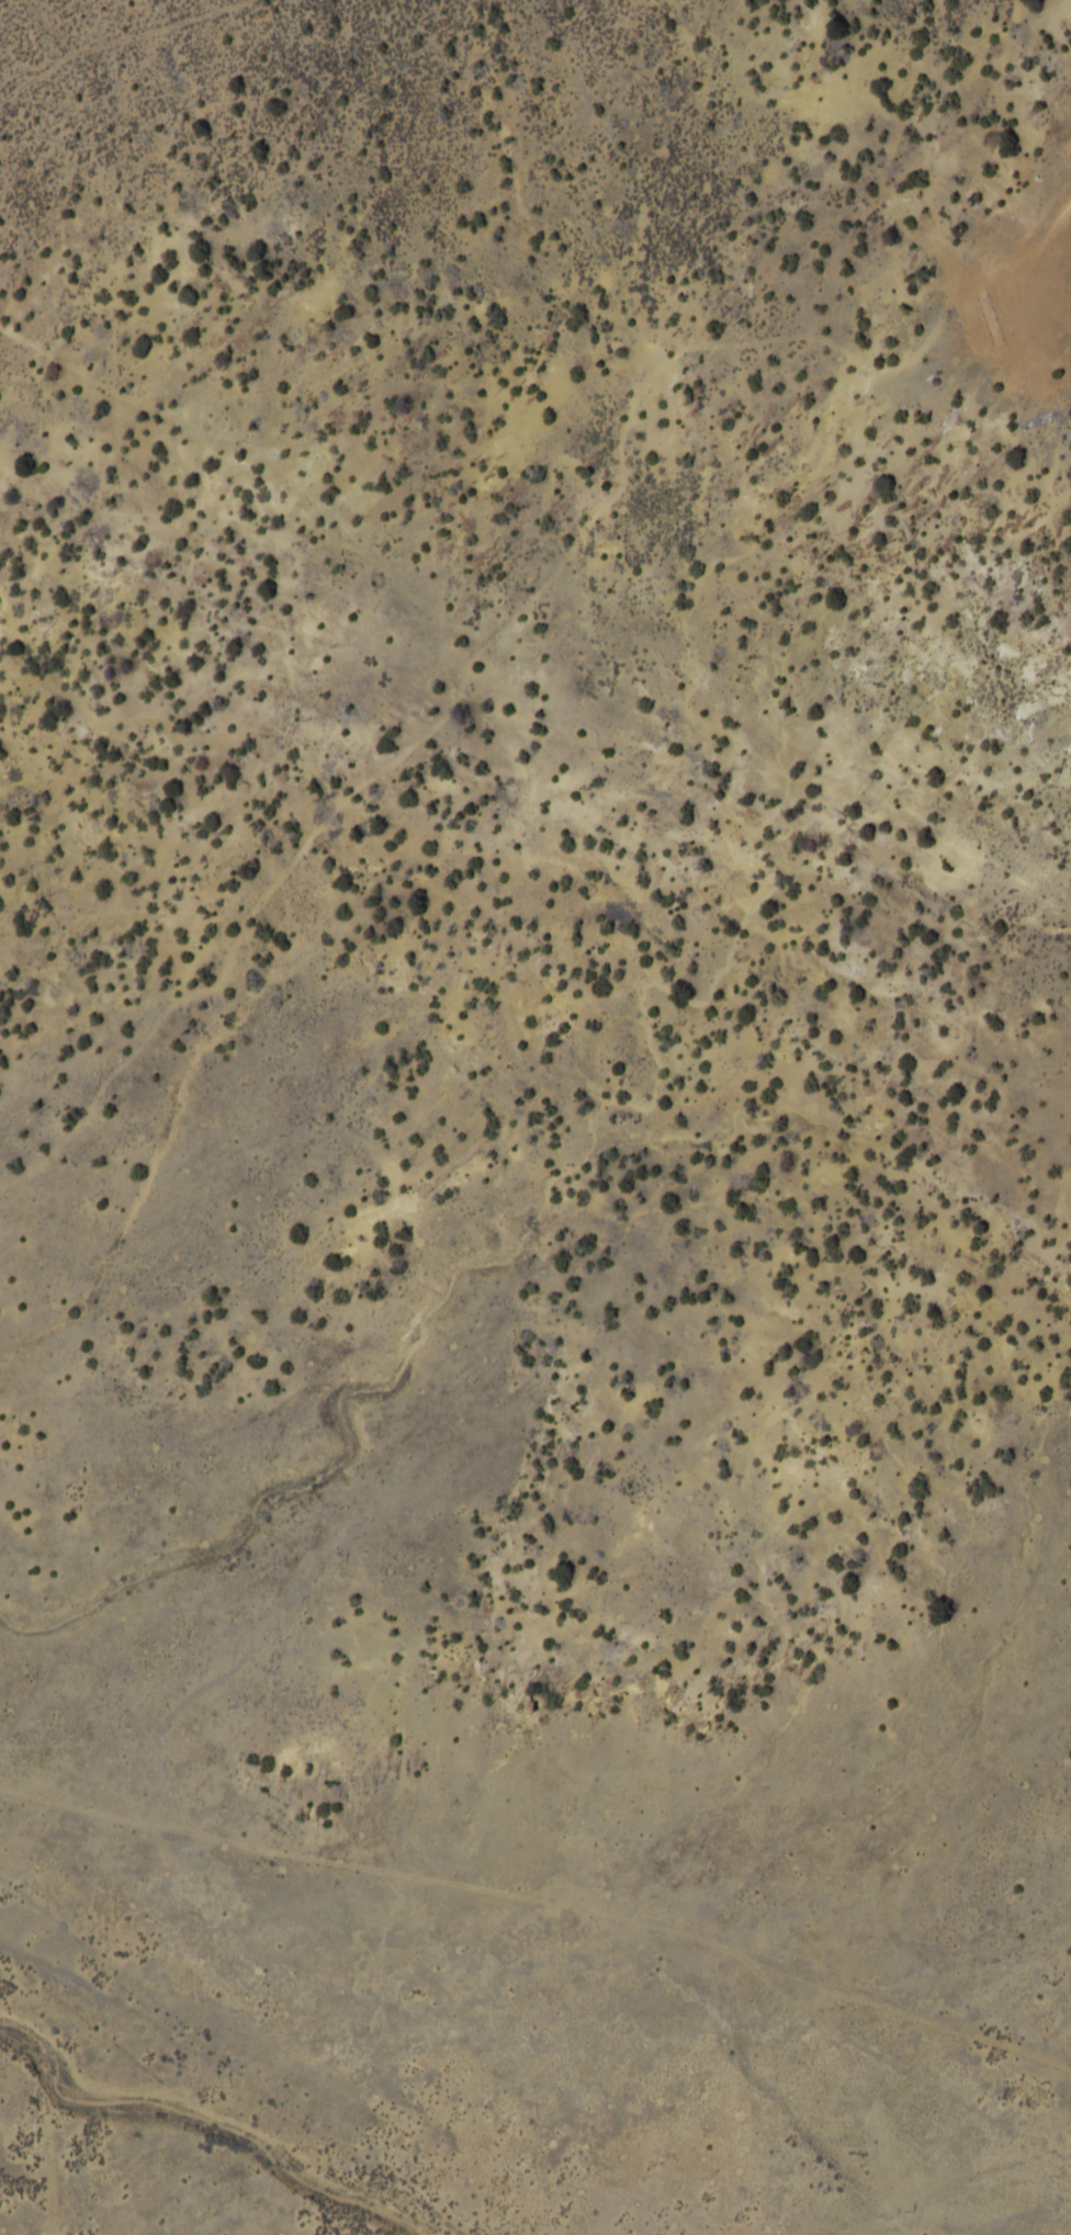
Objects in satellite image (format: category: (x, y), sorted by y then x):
building: (983, 311)
road: (207, 441)
road: (224, 2068)

